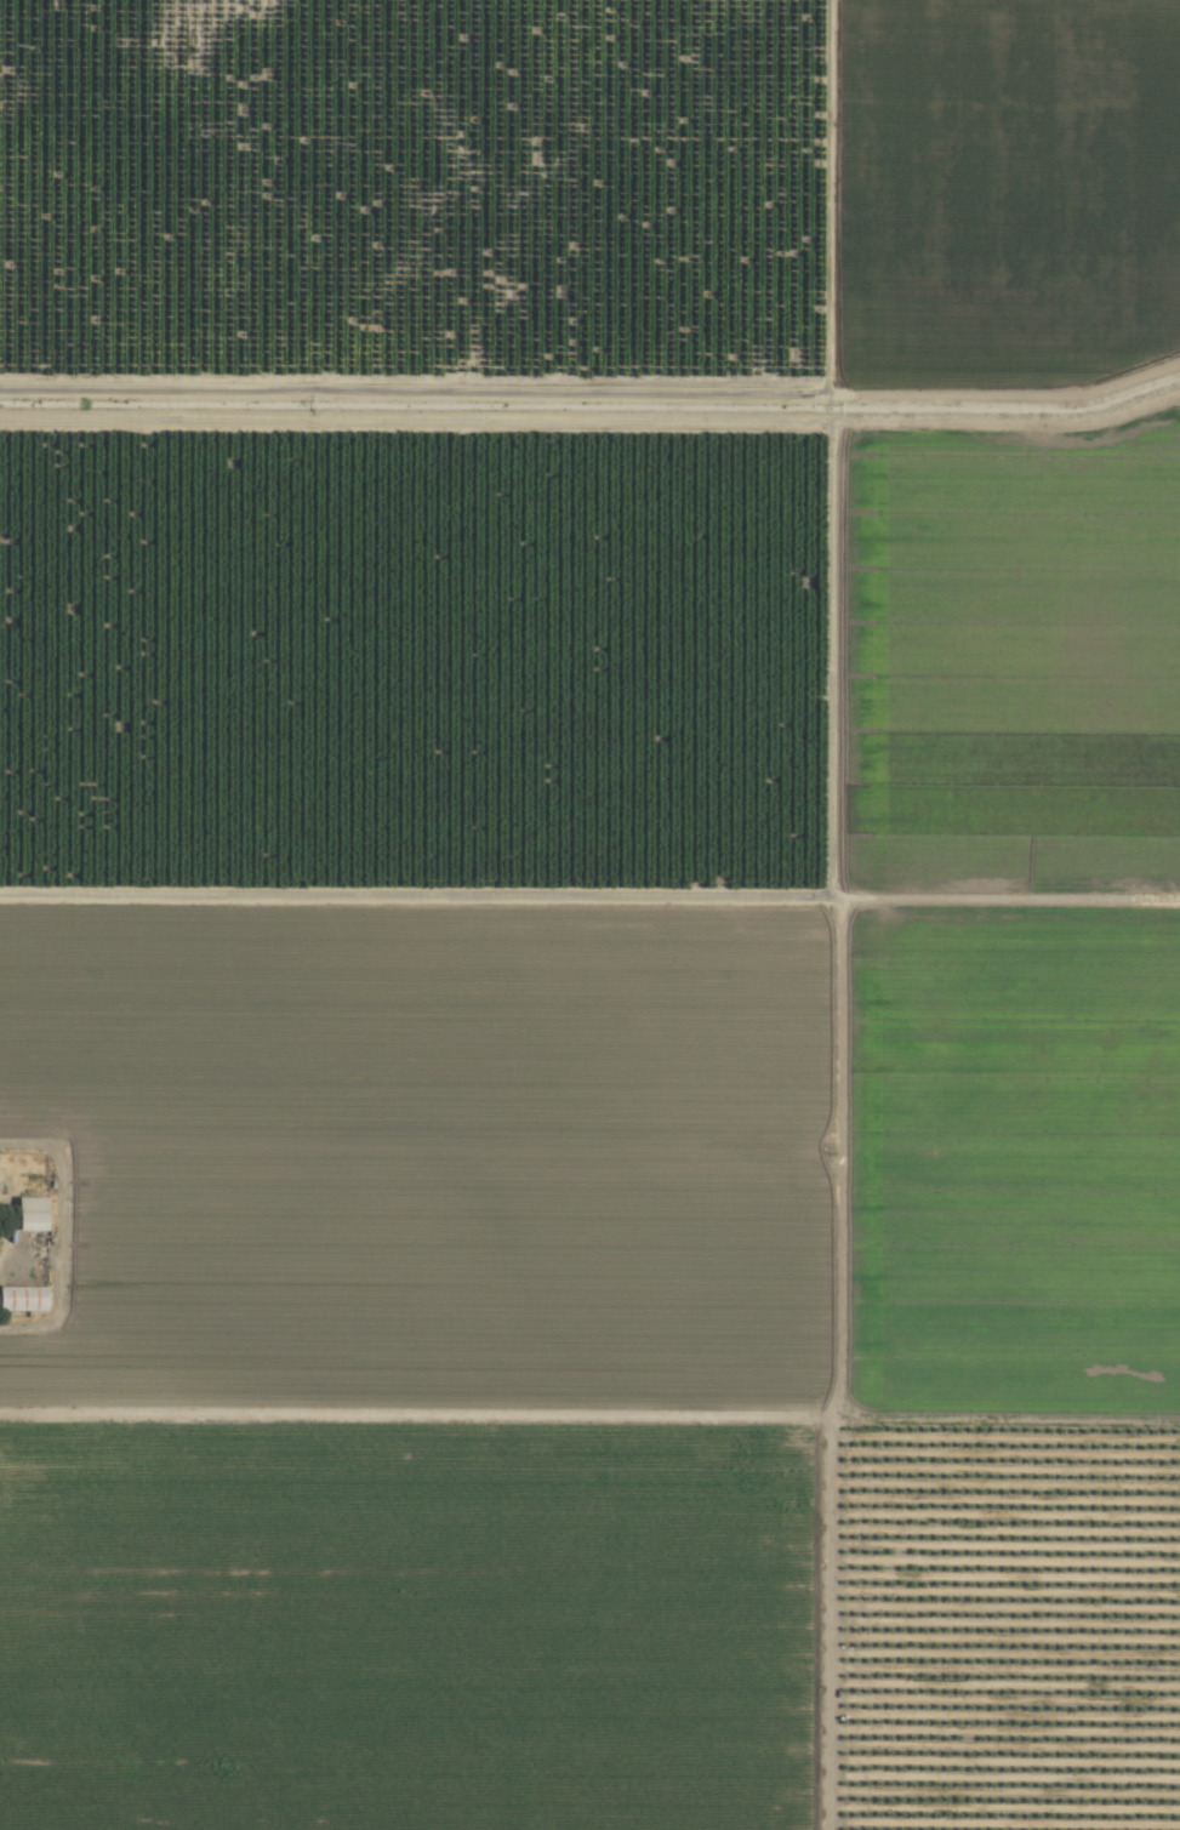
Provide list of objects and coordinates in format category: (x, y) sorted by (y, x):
building: (19, 1296)

